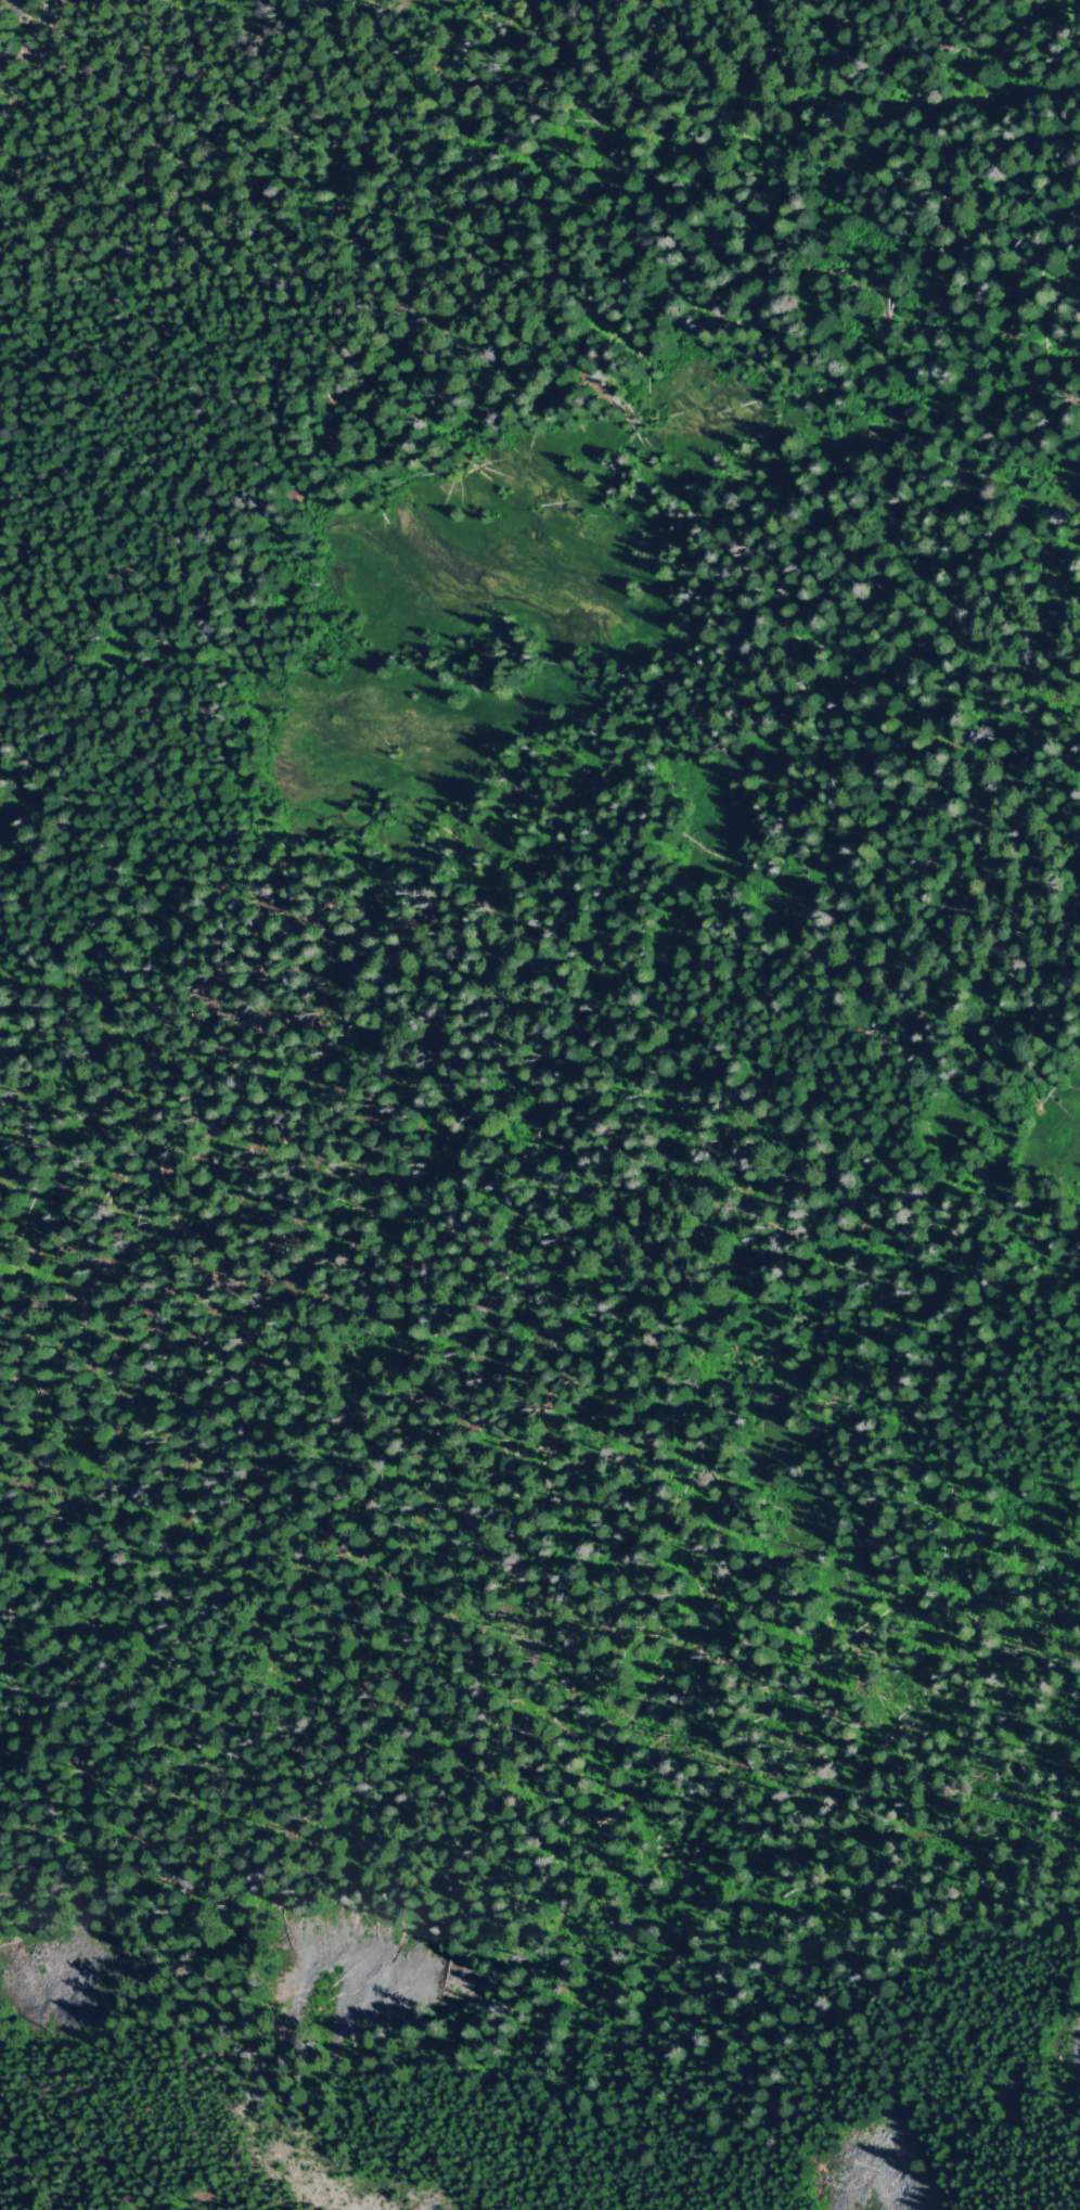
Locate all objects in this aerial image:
road: (474, 1376)

